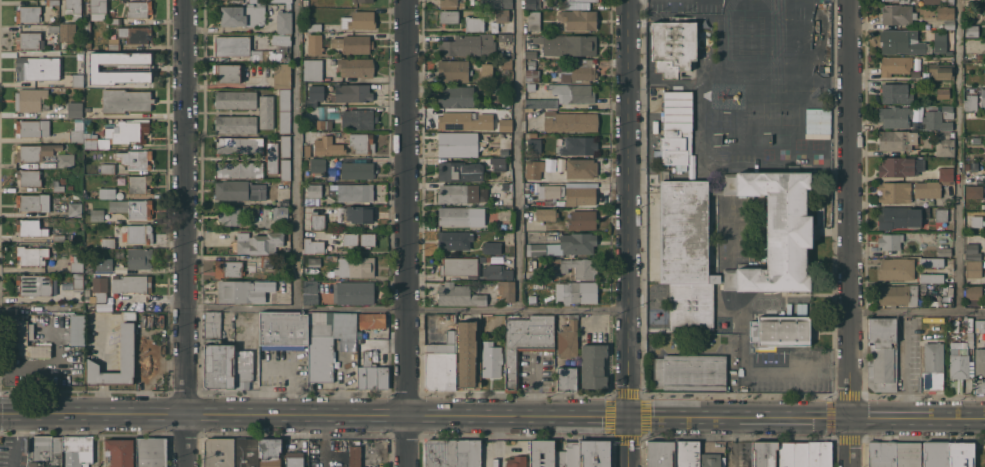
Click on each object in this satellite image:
building: (583, 0)
building: (898, 0)
building: (944, 0)
building: (250, 1)
building: (281, 1)
building: (362, 1)
building: (931, 1)
building: (52, 2)
building: (305, 2)
building: (448, 2)
building: (950, 2)
building: (973, 3)
building: (496, 4)
building: (533, 4)
building: (288, 5)
building: (461, 5)
building: (74, 8)
building: (139, 8)
building: (98, 9)
building: (945, 12)
building: (28, 14)
building: (897, 14)
building: (242, 15)
building: (449, 16)
building: (499, 18)
building: (578, 19)
building: (115, 20)
building: (359, 20)
building: (533, 20)
building: (283, 22)
building: (474, 23)
building: (949, 24)
building: (88, 26)
building: (314, 26)
building: (54, 28)
building: (971, 30)
building: (67, 31)
building: (138, 34)
building: (88, 37)
building: (505, 37)
building: (280, 39)
building: (29, 40)
building: (902, 42)
building: (940, 42)
building: (353, 43)
building: (114, 44)
building: (315, 44)
building: (567, 44)
building: (469, 45)
building: (88, 46)
building: (673, 46)
building: (243, 48)
building: (530, 54)
building: (980, 56)
building: (505, 63)
building: (895, 65)
building: (37, 67)
building: (94, 67)
building: (136, 67)
building: (356, 67)
building: (312, 69)
building: (453, 70)
building: (486, 70)
building: (577, 70)
building: (941, 70)
building: (531, 72)
building: (227, 73)
building: (282, 75)
building: (77, 80)
building: (968, 84)
building: (530, 86)
building: (353, 93)
building: (573, 93)
building: (895, 93)
building: (943, 93)
building: (314, 95)
building: (456, 96)
building: (982, 97)
building: (236, 99)
building: (31, 100)
building: (126, 100)
building: (970, 102)
building: (541, 103)
building: (75, 109)
building: (266, 111)
building: (284, 111)
building: (504, 111)
building: (895, 116)
building: (938, 118)
building: (358, 119)
building: (465, 121)
building: (569, 121)
building: (236, 124)
building: (505, 124)
building: (32, 128)
building: (676, 128)
building: (128, 131)
building: (77, 132)
building: (945, 134)
building: (897, 140)
building: (976, 140)
building: (362, 142)
building: (90, 143)
building: (457, 144)
building: (239, 145)
building: (324, 145)
building: (534, 145)
building: (577, 145)
building: (285, 146)
building: (945, 147)
building: (36, 151)
road: (299, 154)
road: (521, 154)
road: (958, 155)
building: (272, 157)
building: (139, 159)
building: (66, 160)
building: (498, 164)
building: (91, 166)
building: (318, 166)
building: (896, 166)
building: (108, 168)
building: (580, 168)
building: (238, 169)
building: (534, 169)
building: (285, 170)
building: (357, 170)
building: (460, 171)
building: (946, 175)
building: (28, 177)
building: (502, 178)
building: (139, 184)
building: (57, 186)
building: (527, 188)
building: (927, 189)
building: (239, 190)
building: (314, 190)
building: (715, 190)
building: (895, 191)
building: (973, 191)
building: (355, 192)
building: (453, 192)
building: (107, 193)
building: (546, 194)
building: (77, 195)
building: (580, 195)
building: (32, 202)
building: (133, 207)
road: (630, 208)
building: (74, 209)
building: (969, 212)
building: (280, 213)
building: (359, 214)
building: (546, 214)
building: (940, 214)
building: (97, 215)
building: (459, 215)
building: (230, 216)
building: (903, 217)
building: (582, 219)
building: (318, 221)
building: (30, 226)
building: (775, 230)
building: (137, 233)
road: (185, 233)
road: (408, 233)
road: (852, 233)
building: (60, 238)
building: (350, 239)
building: (367, 239)
building: (456, 239)
building: (890, 241)
building: (108, 242)
building: (258, 242)
building: (577, 243)
building: (313, 246)
building: (491, 247)
building: (538, 249)
building: (286, 251)
building: (944, 251)
building: (972, 251)
building: (686, 253)
building: (32, 255)
building: (139, 258)
building: (482, 258)
building: (265, 260)
building: (314, 261)
building: (931, 261)
building: (75, 263)
building: (458, 266)
building: (356, 267)
building: (575, 267)
building: (228, 268)
building: (896, 268)
building: (973, 268)
building: (496, 272)
building: (930, 277)
building: (78, 281)
building: (132, 283)
building: (37, 284)
building: (507, 290)
building: (241, 291)
building: (310, 292)
building: (579, 292)
building: (973, 292)
building: (101, 293)
building: (353, 293)
building: (898, 294)
building: (459, 295)
building: (532, 299)
road: (316, 308)
road: (918, 310)
building: (129, 315)
building: (372, 320)
building: (213, 324)
building: (979, 325)
building: (283, 329)
building: (78, 330)
building: (781, 330)
building: (361, 333)
building: (568, 339)
building: (22, 340)
building: (127, 340)
building: (326, 341)
building: (525, 342)
building: (883, 354)
building: (442, 355)
building: (467, 355)
building: (492, 361)
building: (980, 361)
building: (593, 366)
building: (933, 366)
building: (957, 366)
building: (227, 367)
road: (800, 368)
building: (690, 372)
building: (372, 374)
building: (566, 378)
building: (979, 386)
road: (534, 389)
road: (492, 416)
traffic signals: (632, 417)
road: (94, 440)
road: (632, 442)
building: (45, 451)
building: (77, 451)
building: (119, 452)
building: (152, 452)
building: (219, 452)
building: (247, 452)
building: (270, 452)
building: (354, 453)
building: (441, 453)
building: (468, 453)
building: (542, 453)
building: (573, 454)
building: (595, 454)
building: (661, 454)
building: (687, 454)
building: (765, 454)
building: (804, 454)
building: (882, 454)
building: (908, 454)
building: (935, 454)
building: (960, 455)
building: (560, 458)
building: (294, 459)
building: (710, 460)
building: (517, 461)

